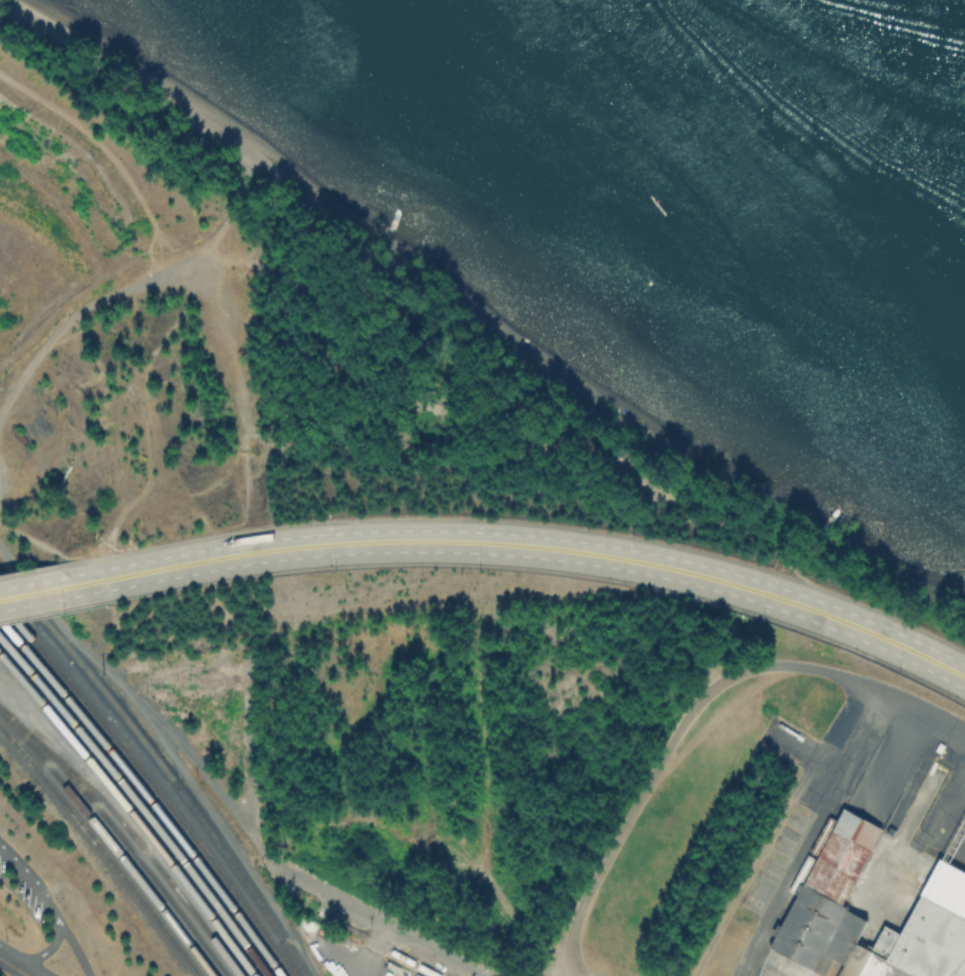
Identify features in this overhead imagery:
river: (818, 84)
road: (530, 523)
road: (540, 547)
road: (39, 569)
road: (553, 570)
road: (49, 590)
road: (60, 611)
railway: (160, 768)
railway: (151, 787)
railway: (144, 798)
railway: (136, 807)
railway: (129, 814)
railway: (129, 834)
railway: (108, 843)
railway: (100, 851)
railway: (132, 854)
railway: (812, 856)
building: (826, 890)
parking lot: (21, 892)
road: (48, 909)
road: (376, 918)
road: (73, 949)
road: (374, 949)
railway: (383, 950)
road: (22, 961)
road: (10, 969)

